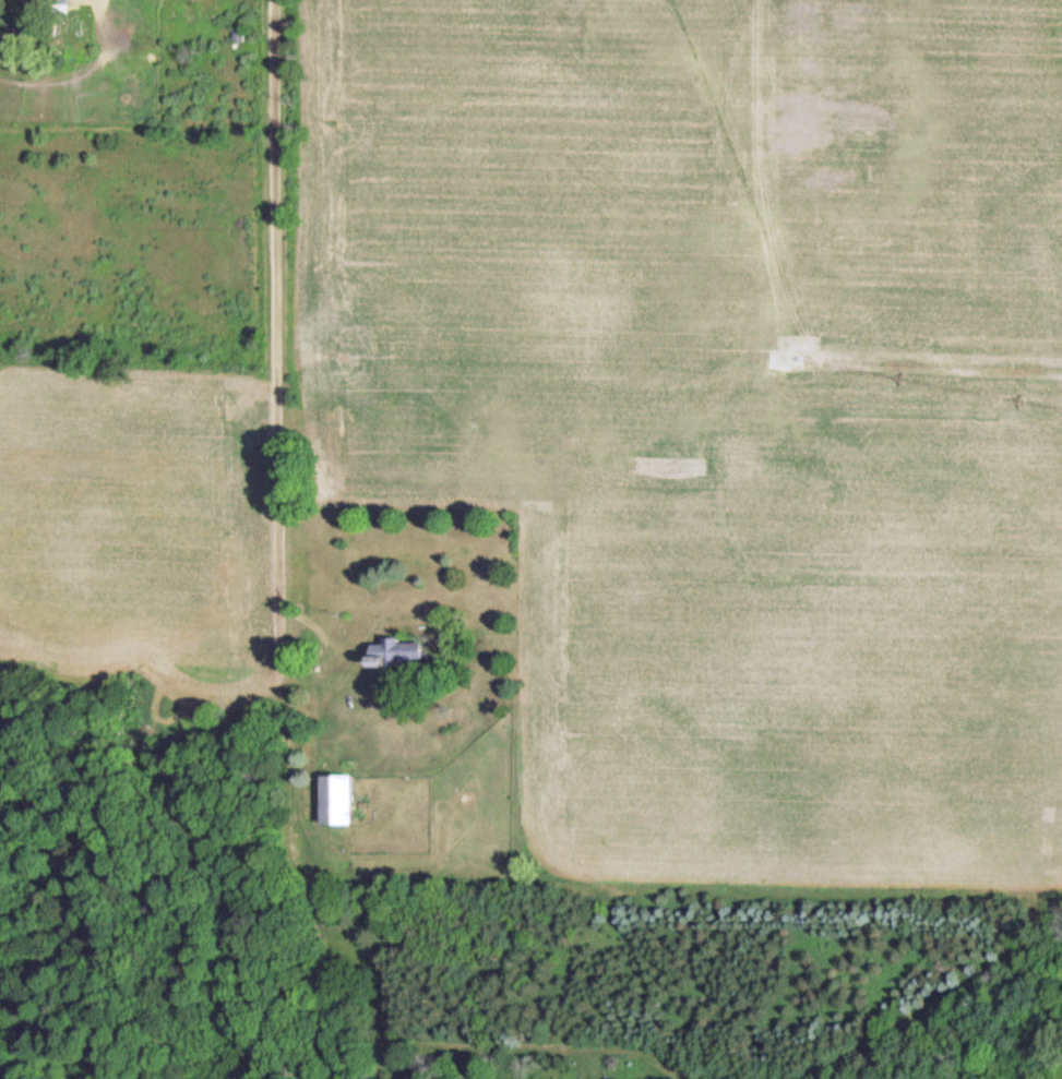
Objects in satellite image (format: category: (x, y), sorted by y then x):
building: (62, 1)
road: (277, 302)
building: (397, 654)
building: (338, 800)

